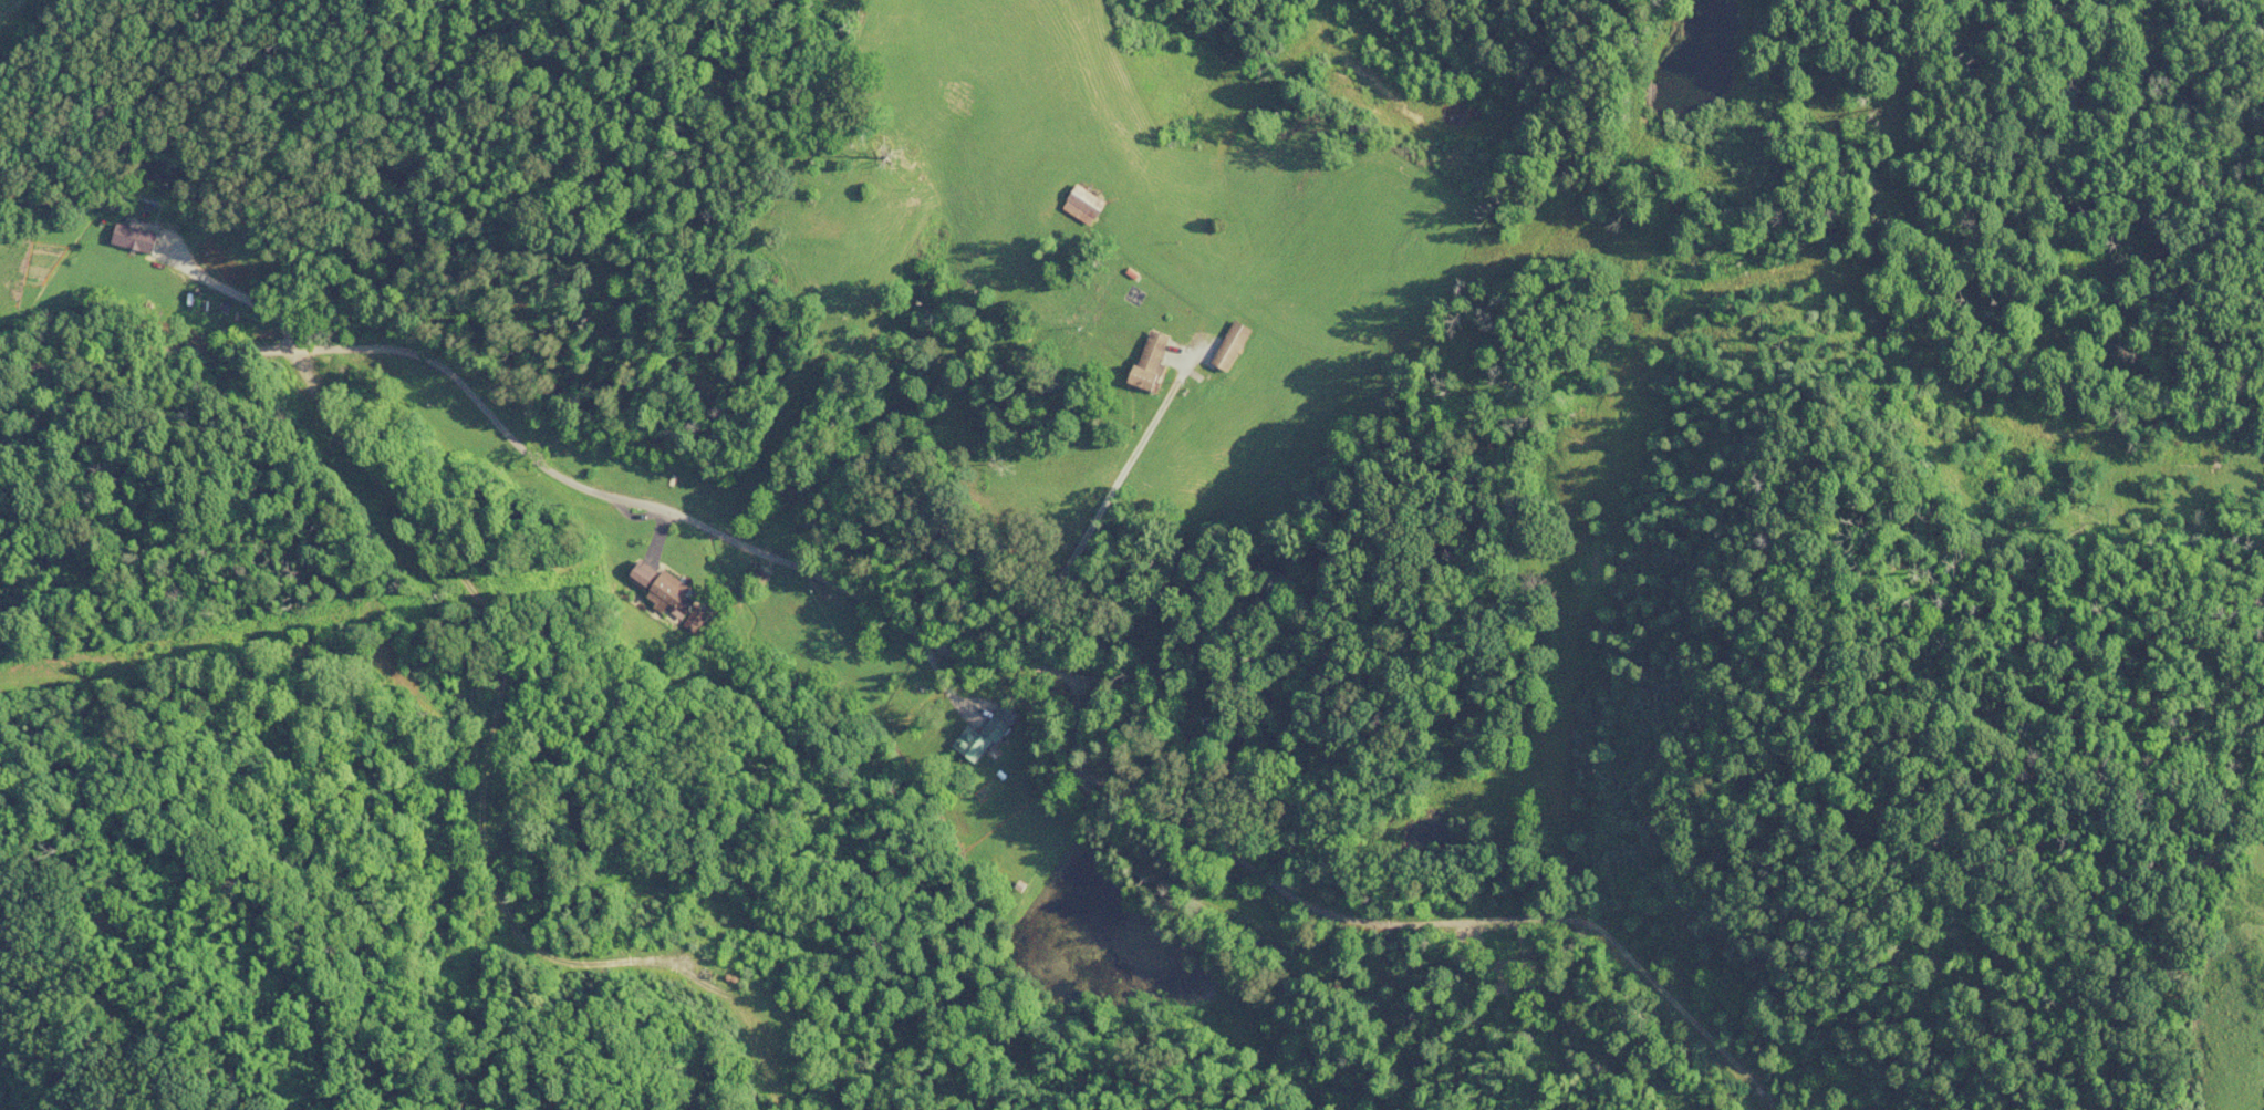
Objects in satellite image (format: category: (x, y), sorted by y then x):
building: (1066, 201)
building: (134, 239)
building: (1218, 343)
building: (1142, 356)
road: (459, 384)

